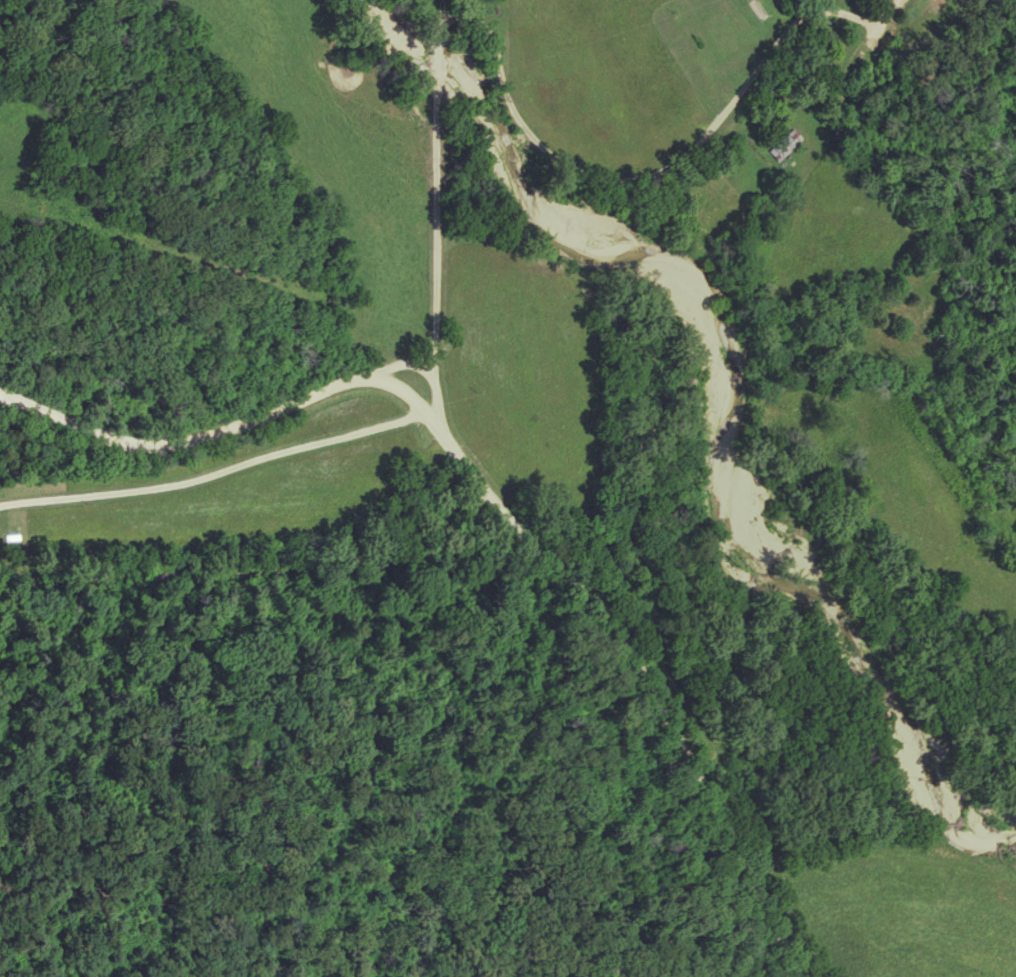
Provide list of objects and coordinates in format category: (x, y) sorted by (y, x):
building: (783, 144)
road: (645, 173)
road: (434, 220)
road: (506, 501)

